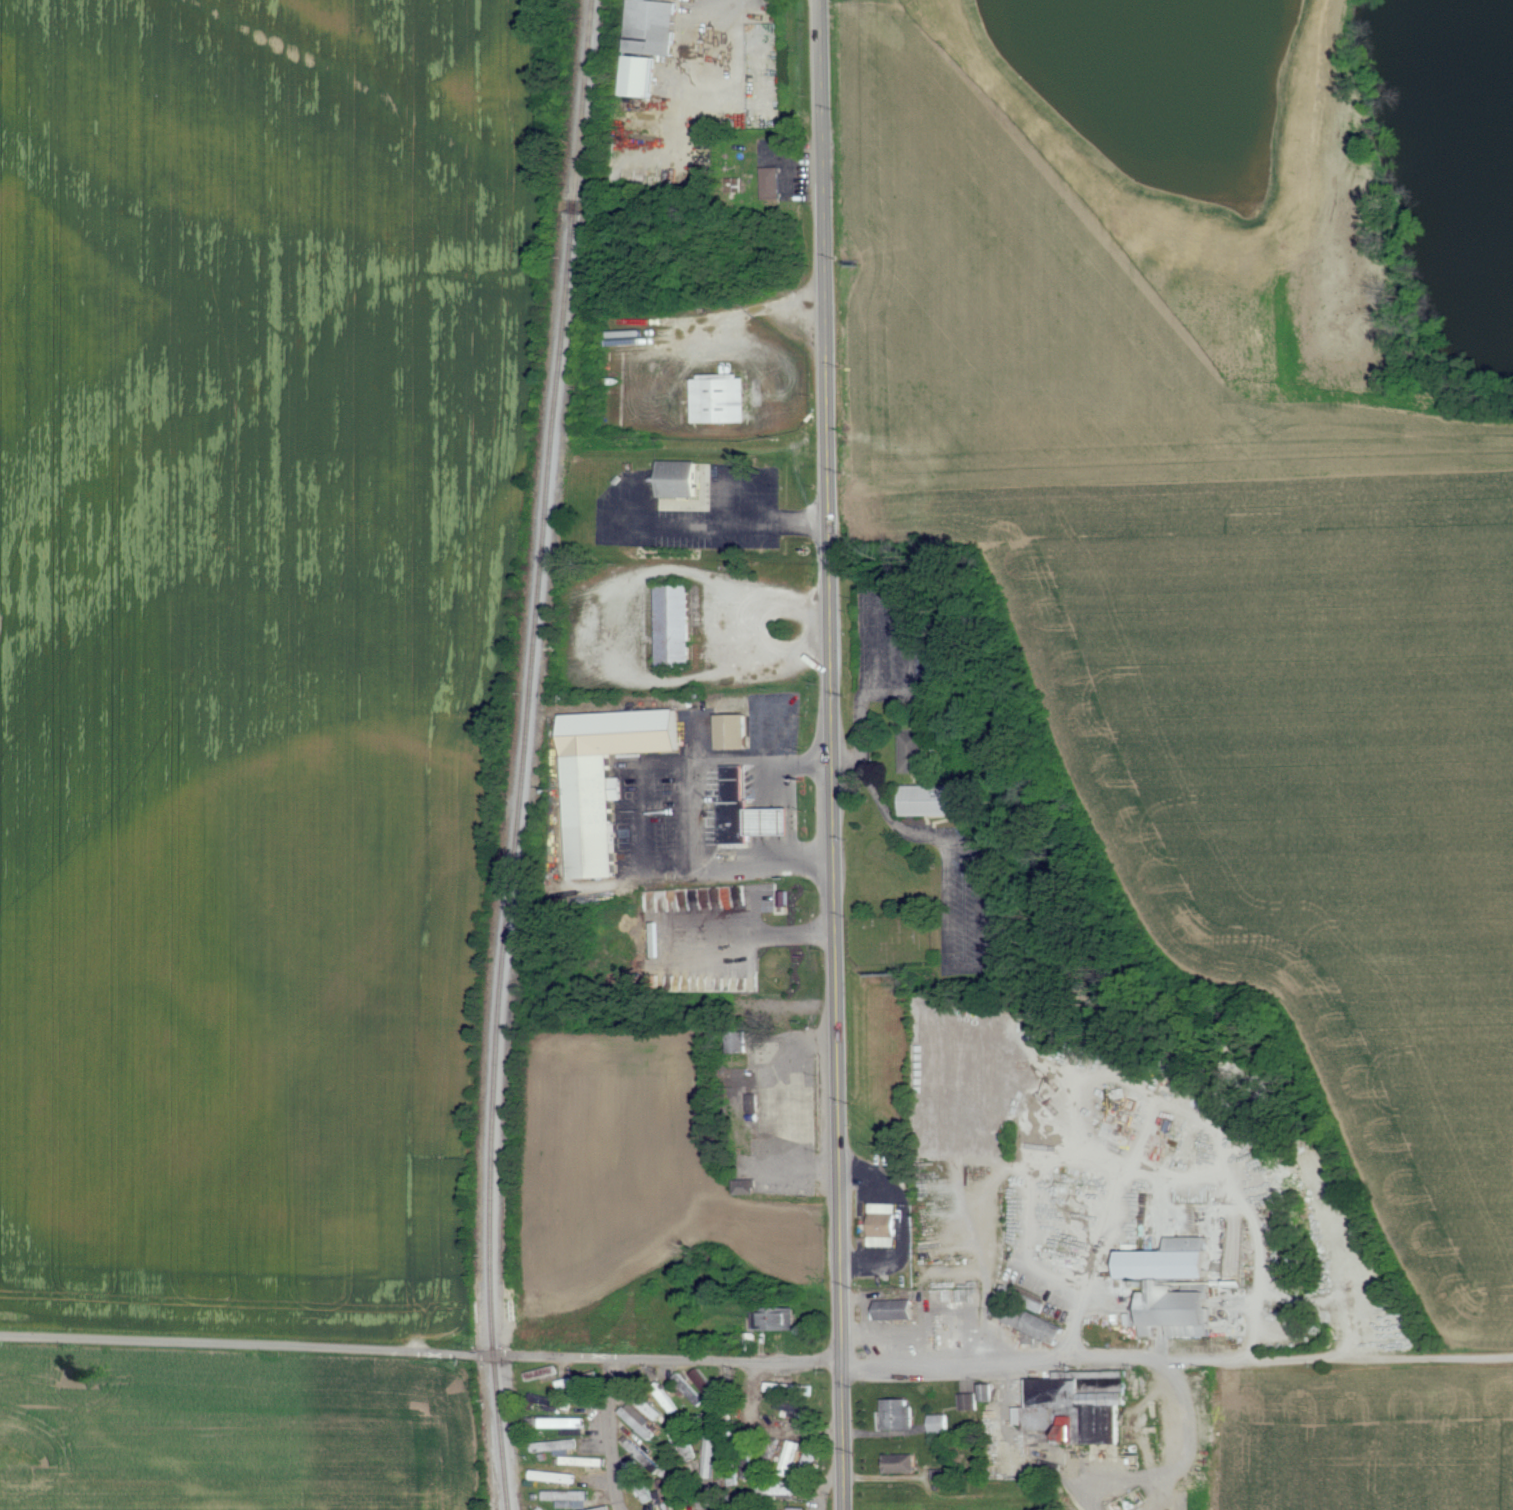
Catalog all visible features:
road: (709, 21)
building: (646, 41)
building: (772, 183)
building: (718, 399)
building: (675, 478)
road: (718, 525)
building: (671, 625)
road: (575, 630)
road: (864, 698)
building: (730, 729)
building: (910, 751)
railway: (523, 754)
road: (831, 755)
building: (602, 776)
building: (926, 800)
building: (744, 810)
gas station: (744, 810)
road: (690, 811)
road: (886, 811)
road: (641, 813)
building: (738, 1041)
building: (740, 1087)
road: (771, 1111)
road: (1175, 1169)
building: (747, 1187)
building: (882, 1225)
building: (1171, 1285)
building: (895, 1307)
building: (1025, 1316)
building: (776, 1319)
road: (917, 1346)
road: (425, 1351)
road: (1254, 1359)
building: (542, 1373)
building: (705, 1381)
building: (785, 1388)
building: (990, 1392)
building: (969, 1401)
building: (551, 1403)
building: (646, 1405)
building: (1079, 1405)
building: (899, 1414)
building: (567, 1423)
building: (637, 1423)
building: (940, 1424)
road: (616, 1434)
building: (683, 1440)
building: (557, 1447)
building: (790, 1454)
road: (1186, 1458)
building: (711, 1459)
building: (809, 1460)
building: (580, 1461)
building: (901, 1464)
building: (554, 1476)
building: (639, 1481)
road: (827, 1483)
building: (663, 1494)
building: (569, 1499)
building: (603, 1508)
building: (797, 1508)
building: (540, 1509)

